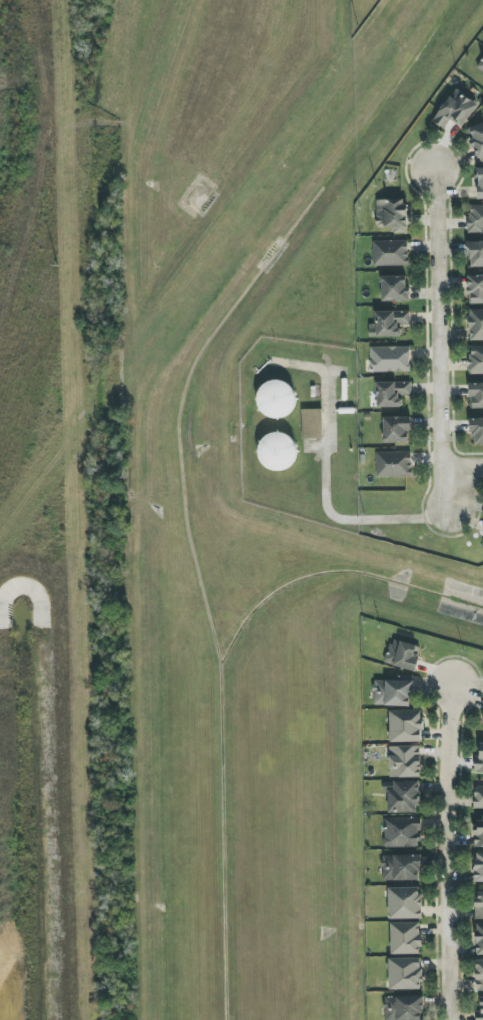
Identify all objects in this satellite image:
building: (480, 65)
building: (456, 110)
building: (477, 141)
building: (480, 183)
building: (392, 214)
building: (475, 218)
building: (390, 253)
building: (476, 254)
building: (394, 288)
building: (475, 290)
building: (389, 323)
building: (476, 325)
road: (437, 341)
building: (390, 359)
building: (476, 359)
road: (307, 367)
building: (392, 393)
building: (476, 395)
building: (276, 399)
building: (312, 424)
building: (397, 430)
building: (477, 430)
building: (277, 452)
building: (394, 464)
road: (466, 467)
road: (325, 503)
building: (402, 654)
building: (393, 693)
building: (406, 726)
building: (405, 761)
building: (479, 761)
building: (478, 797)
building: (404, 798)
building: (402, 832)
building: (479, 832)
road: (444, 852)
building: (479, 867)
building: (401, 868)
building: (405, 903)
building: (478, 907)
building: (406, 938)
building: (479, 939)
building: (405, 974)
building: (479, 975)
building: (404, 1008)
building: (480, 1012)

